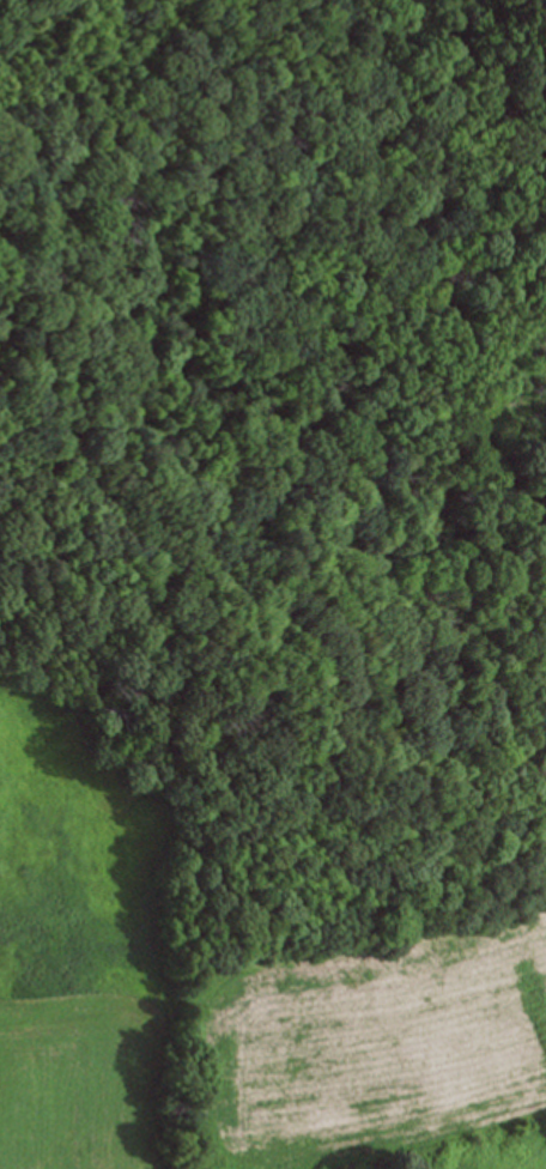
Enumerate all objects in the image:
crop: (374, 1046)
crop: (93, 1085)

